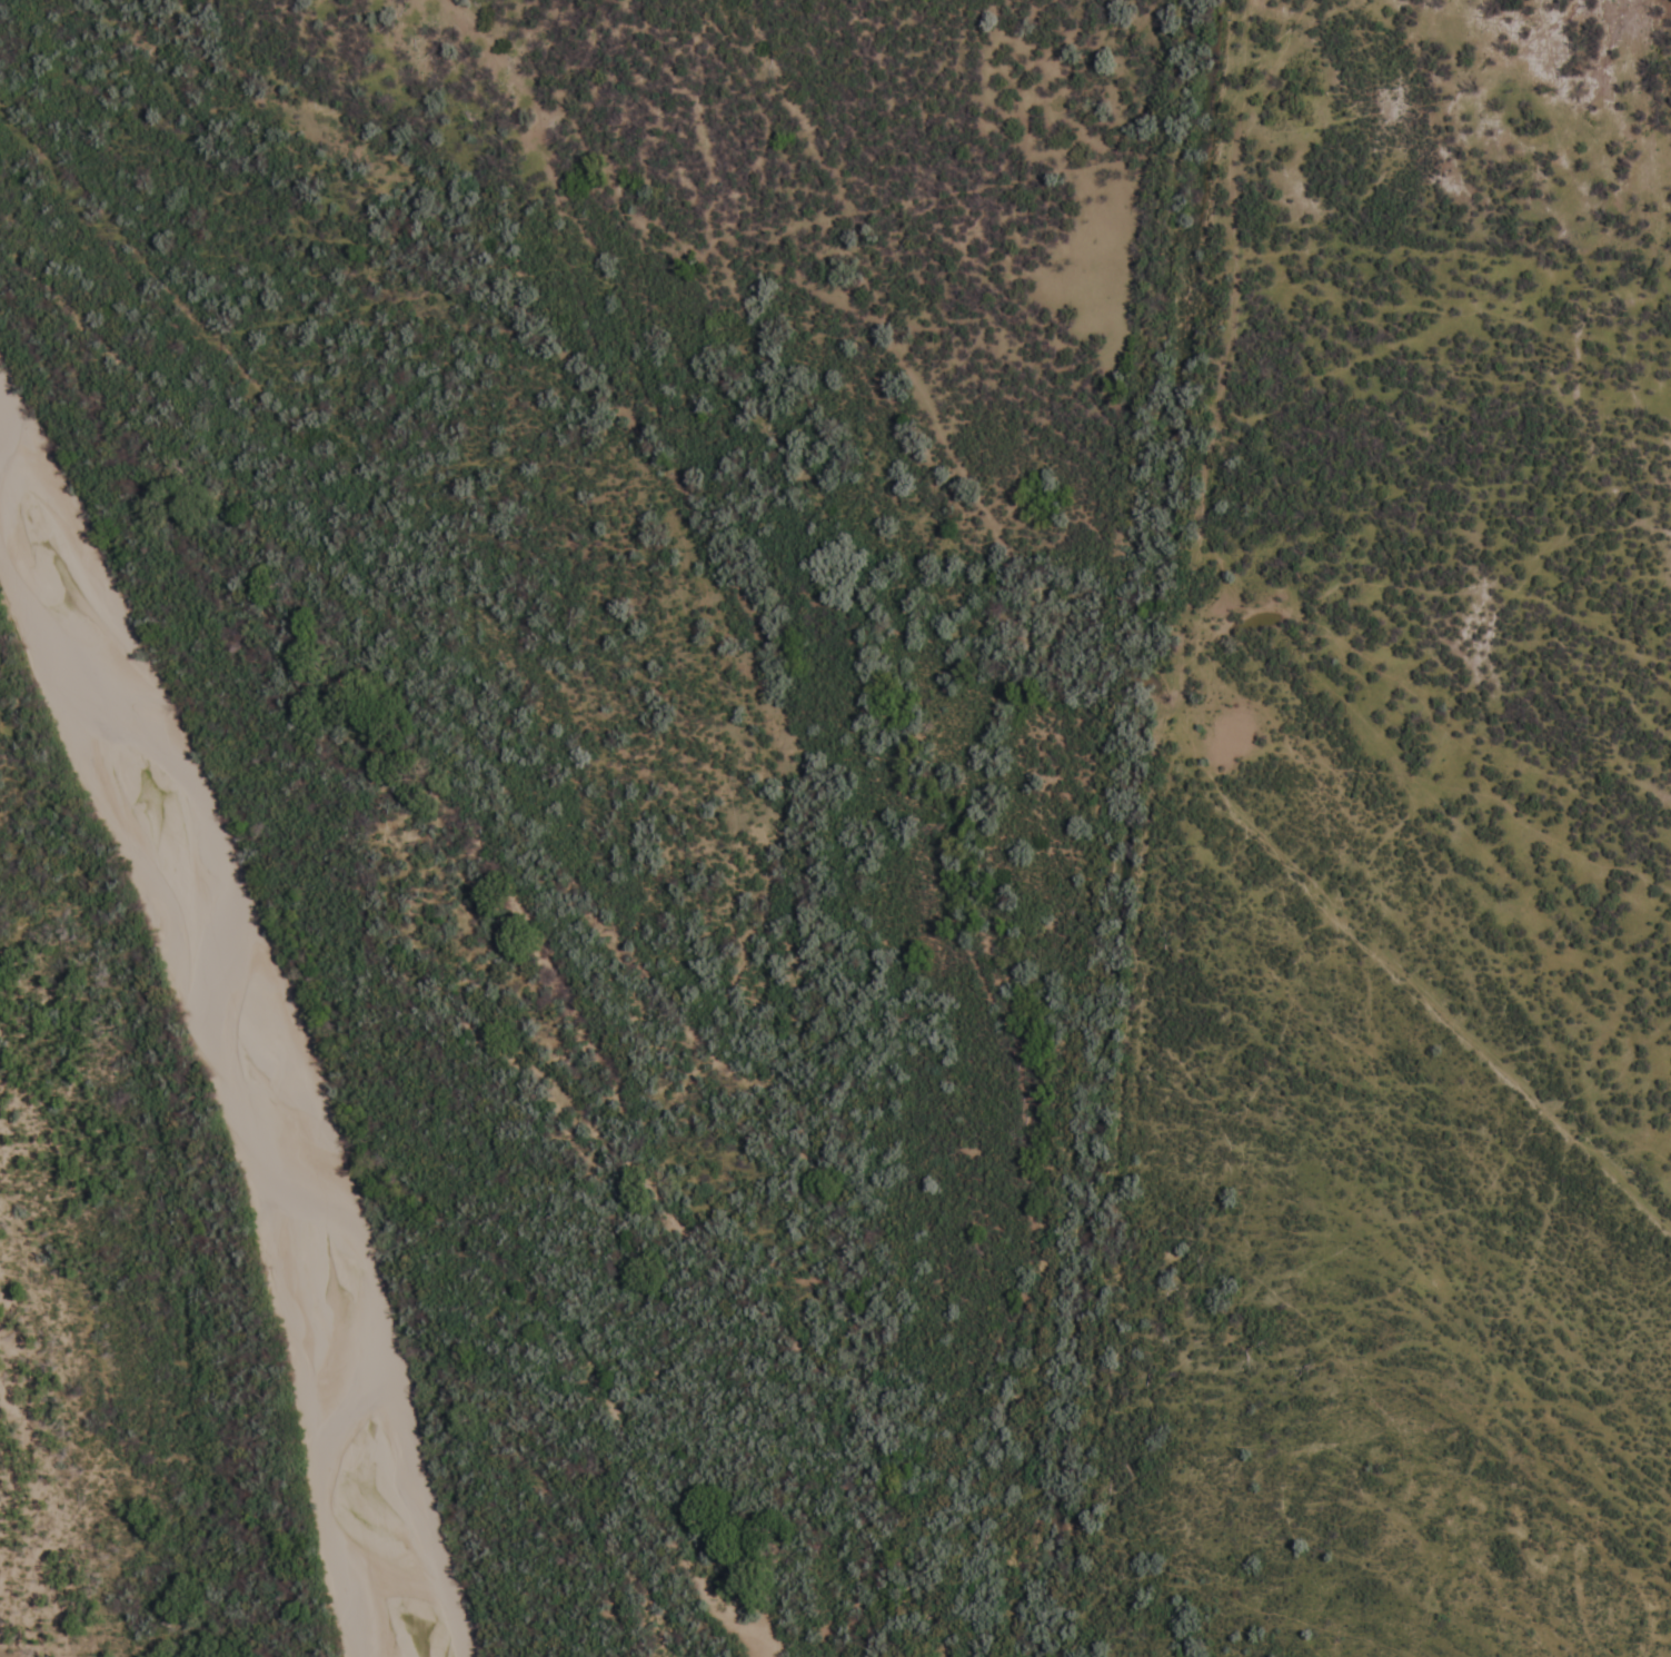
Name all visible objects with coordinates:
road: (1588, 238)
river: (240, 1061)

